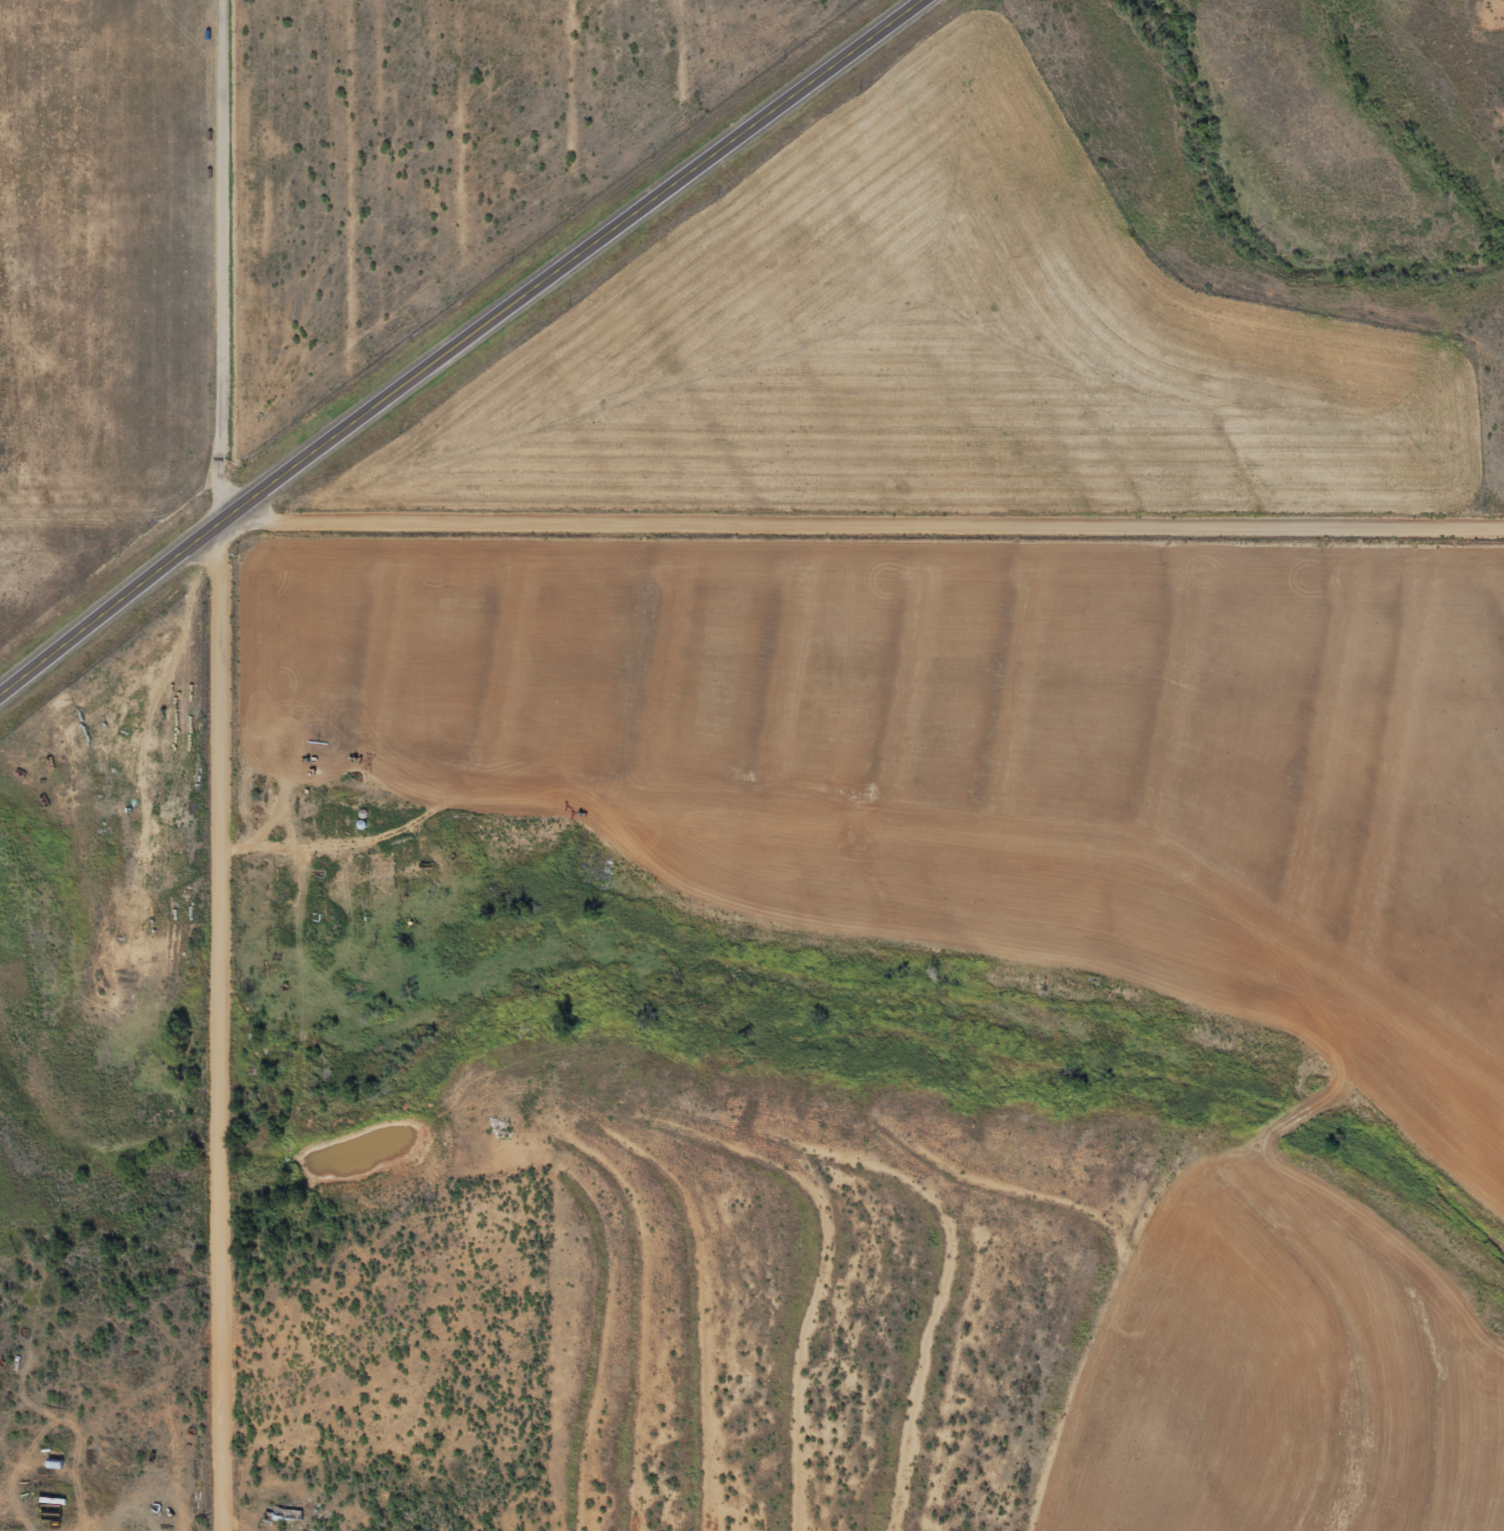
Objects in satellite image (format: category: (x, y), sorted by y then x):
road: (234, 255)
road: (461, 342)
road: (867, 522)
road: (221, 1020)

